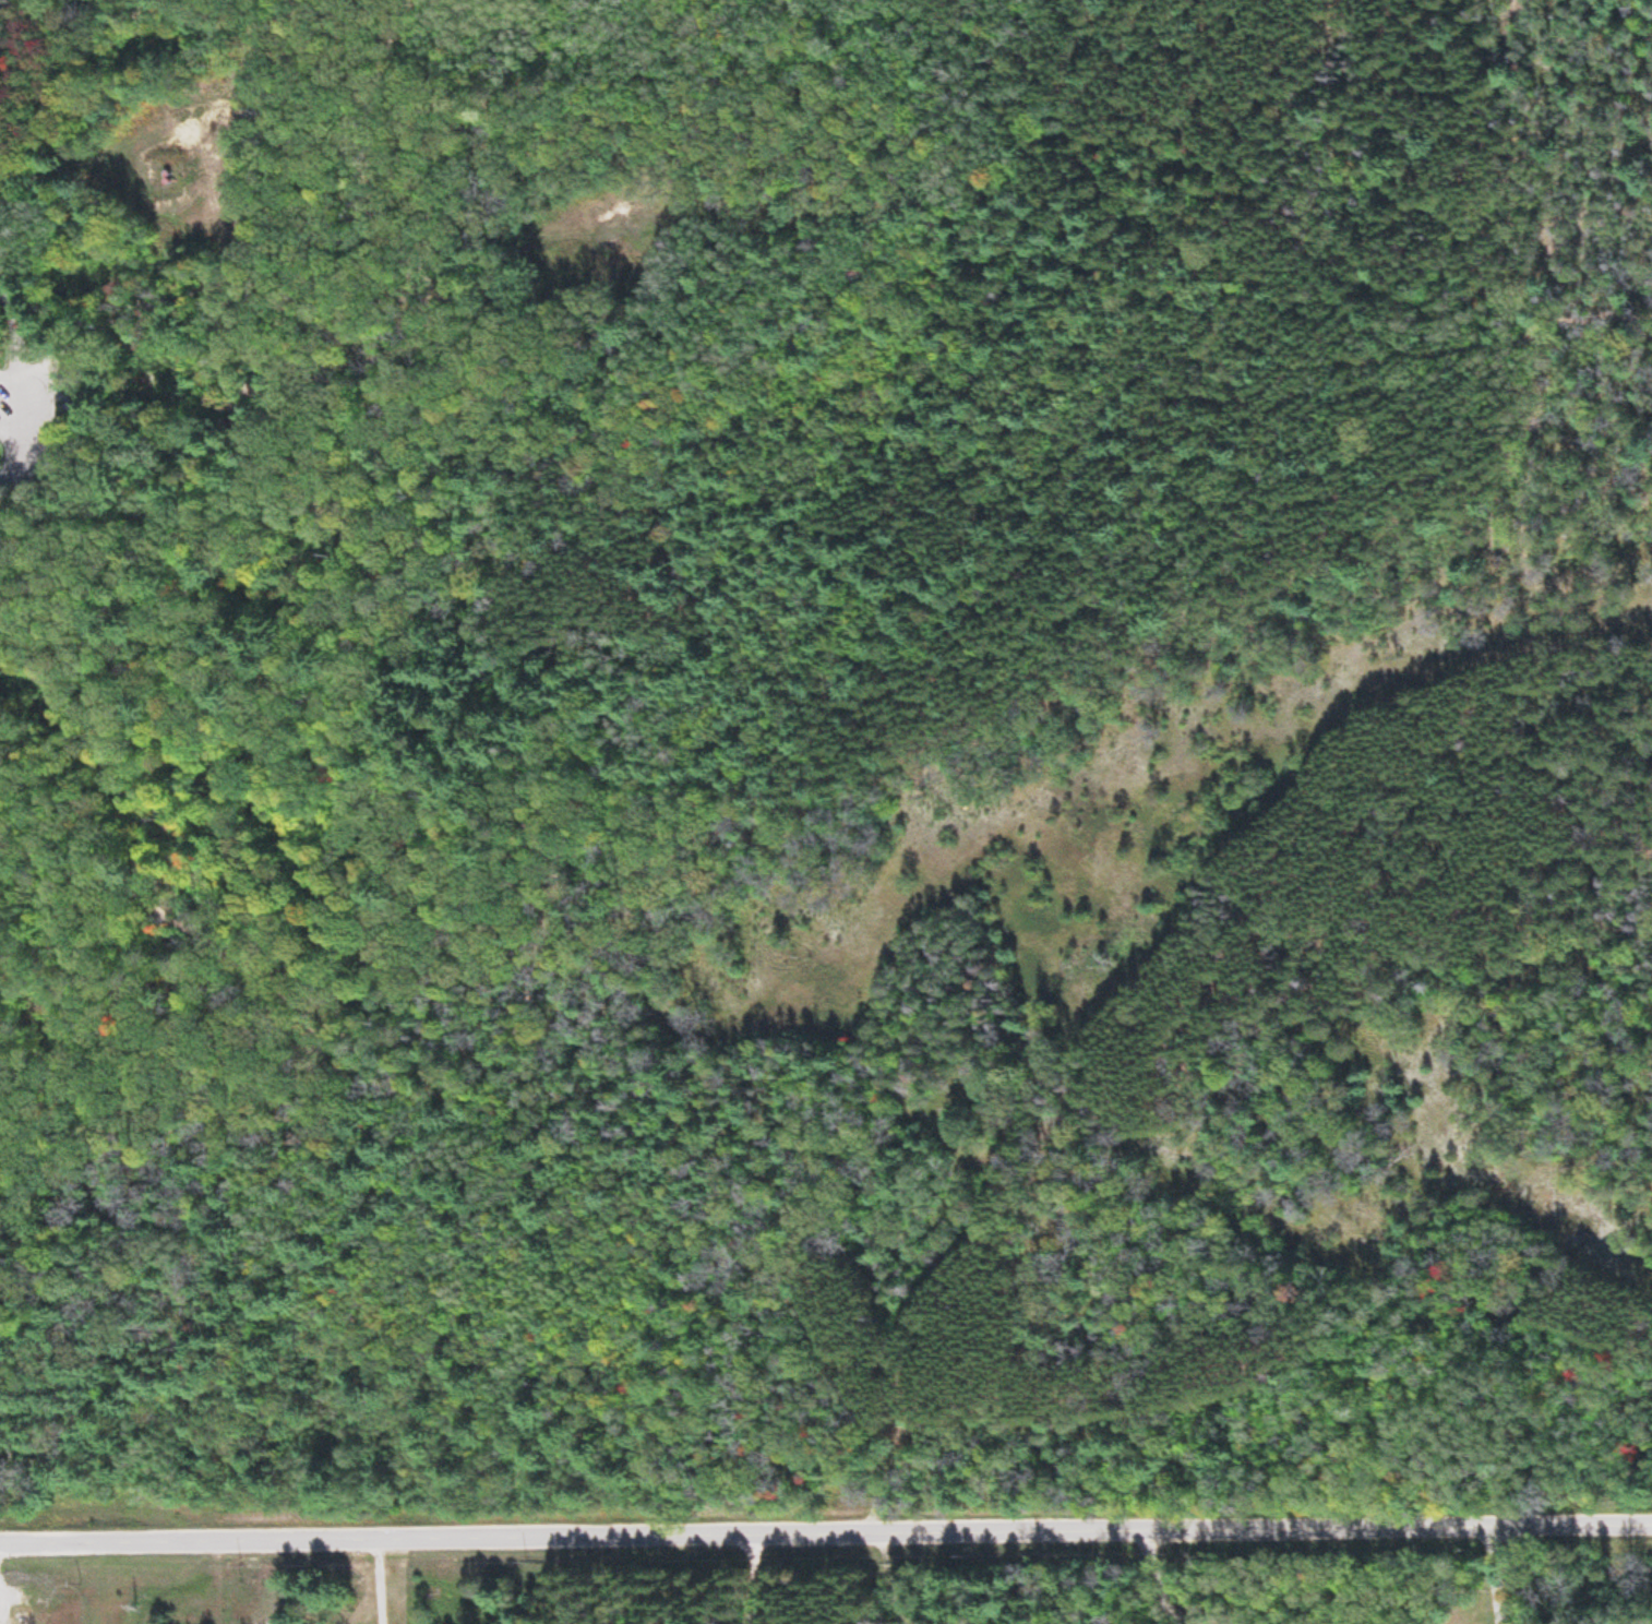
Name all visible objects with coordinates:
road: (67, 244)
road: (1527, 321)
parking lot: (43, 419)
road: (1188, 1005)
road: (825, 1539)

